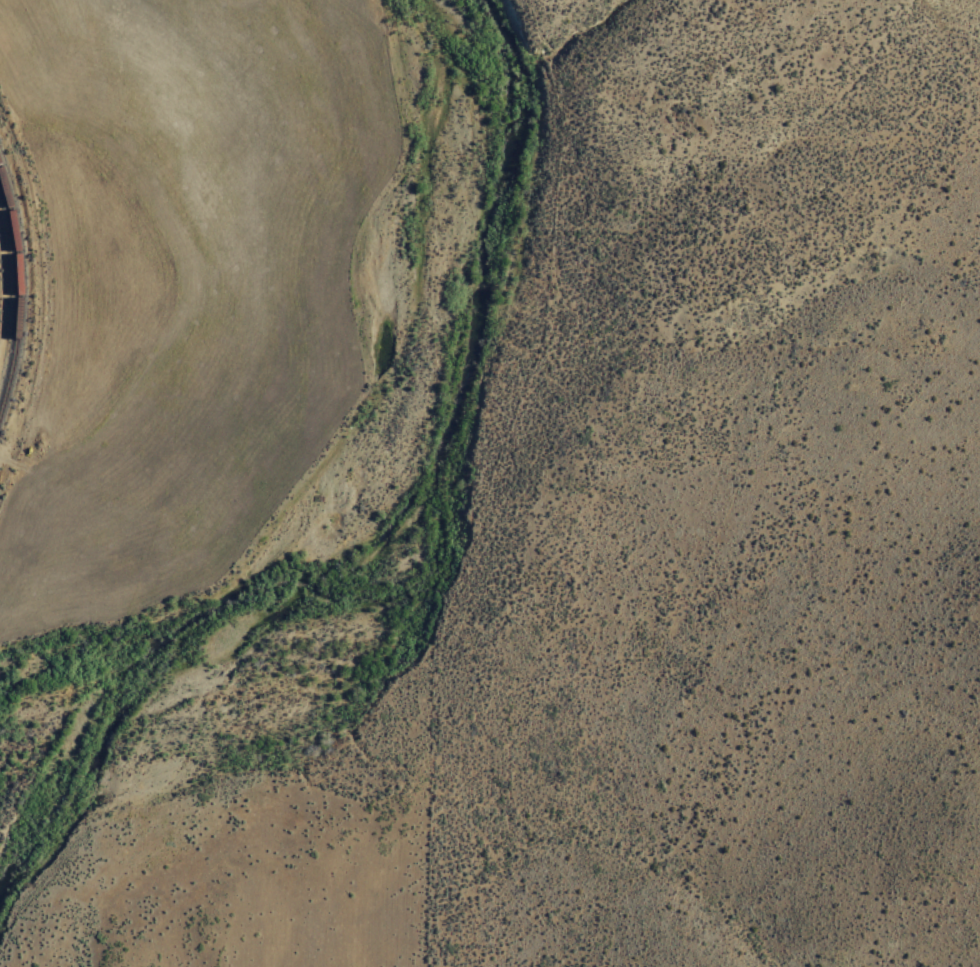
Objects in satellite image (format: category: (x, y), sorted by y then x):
railway: (16, 291)
crop: (157, 323)

